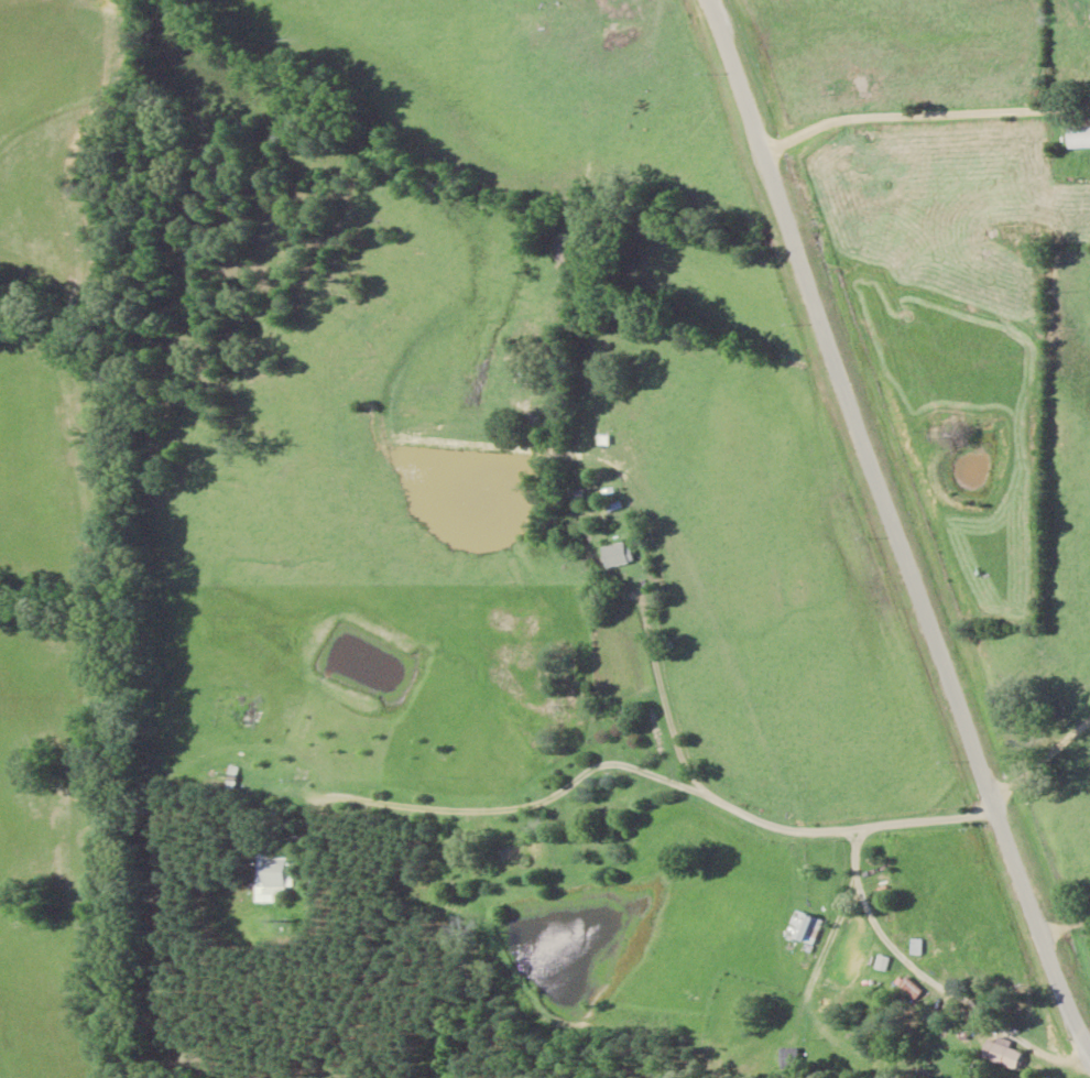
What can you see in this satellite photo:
road: (928, 116)
building: (1077, 138)
road: (914, 476)
building: (613, 555)
road: (752, 818)
building: (273, 870)
building: (802, 928)
building: (915, 946)
building: (907, 989)
building: (1001, 1052)

